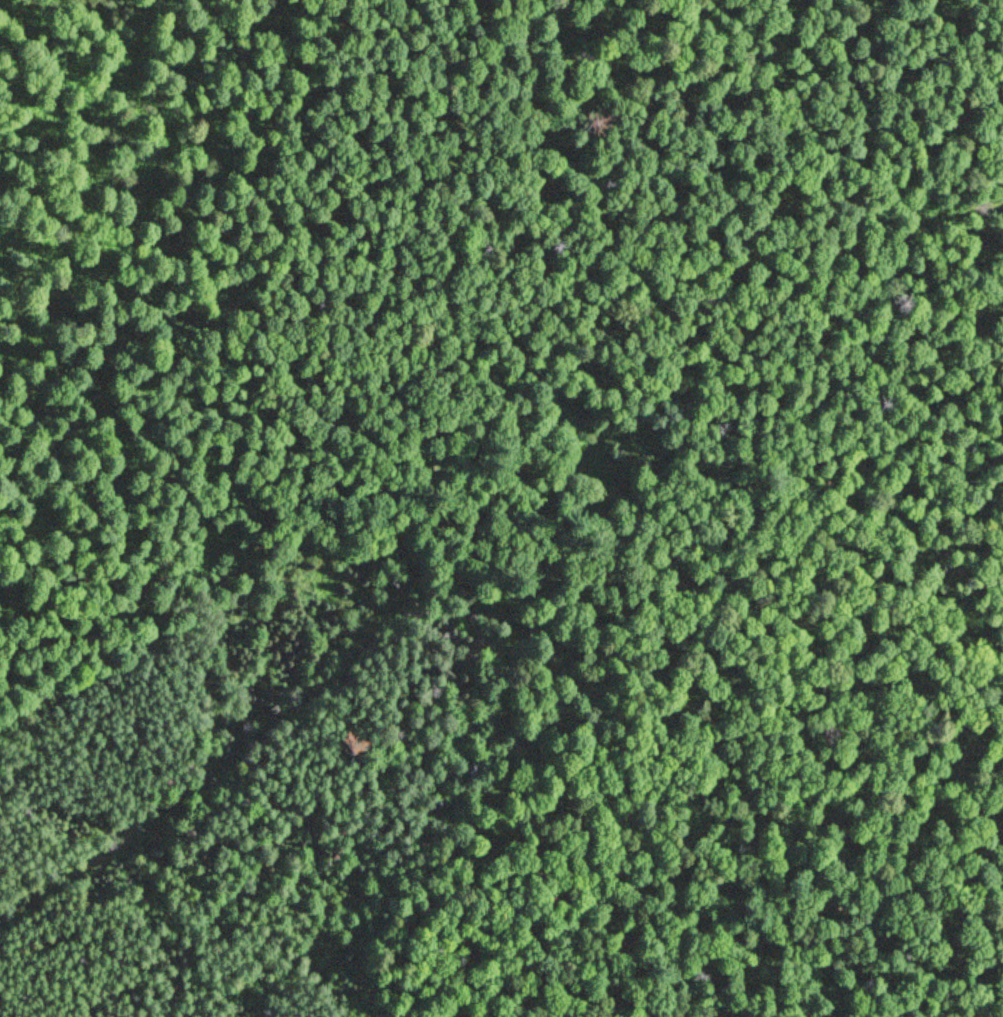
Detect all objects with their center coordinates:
road: (477, 524)

